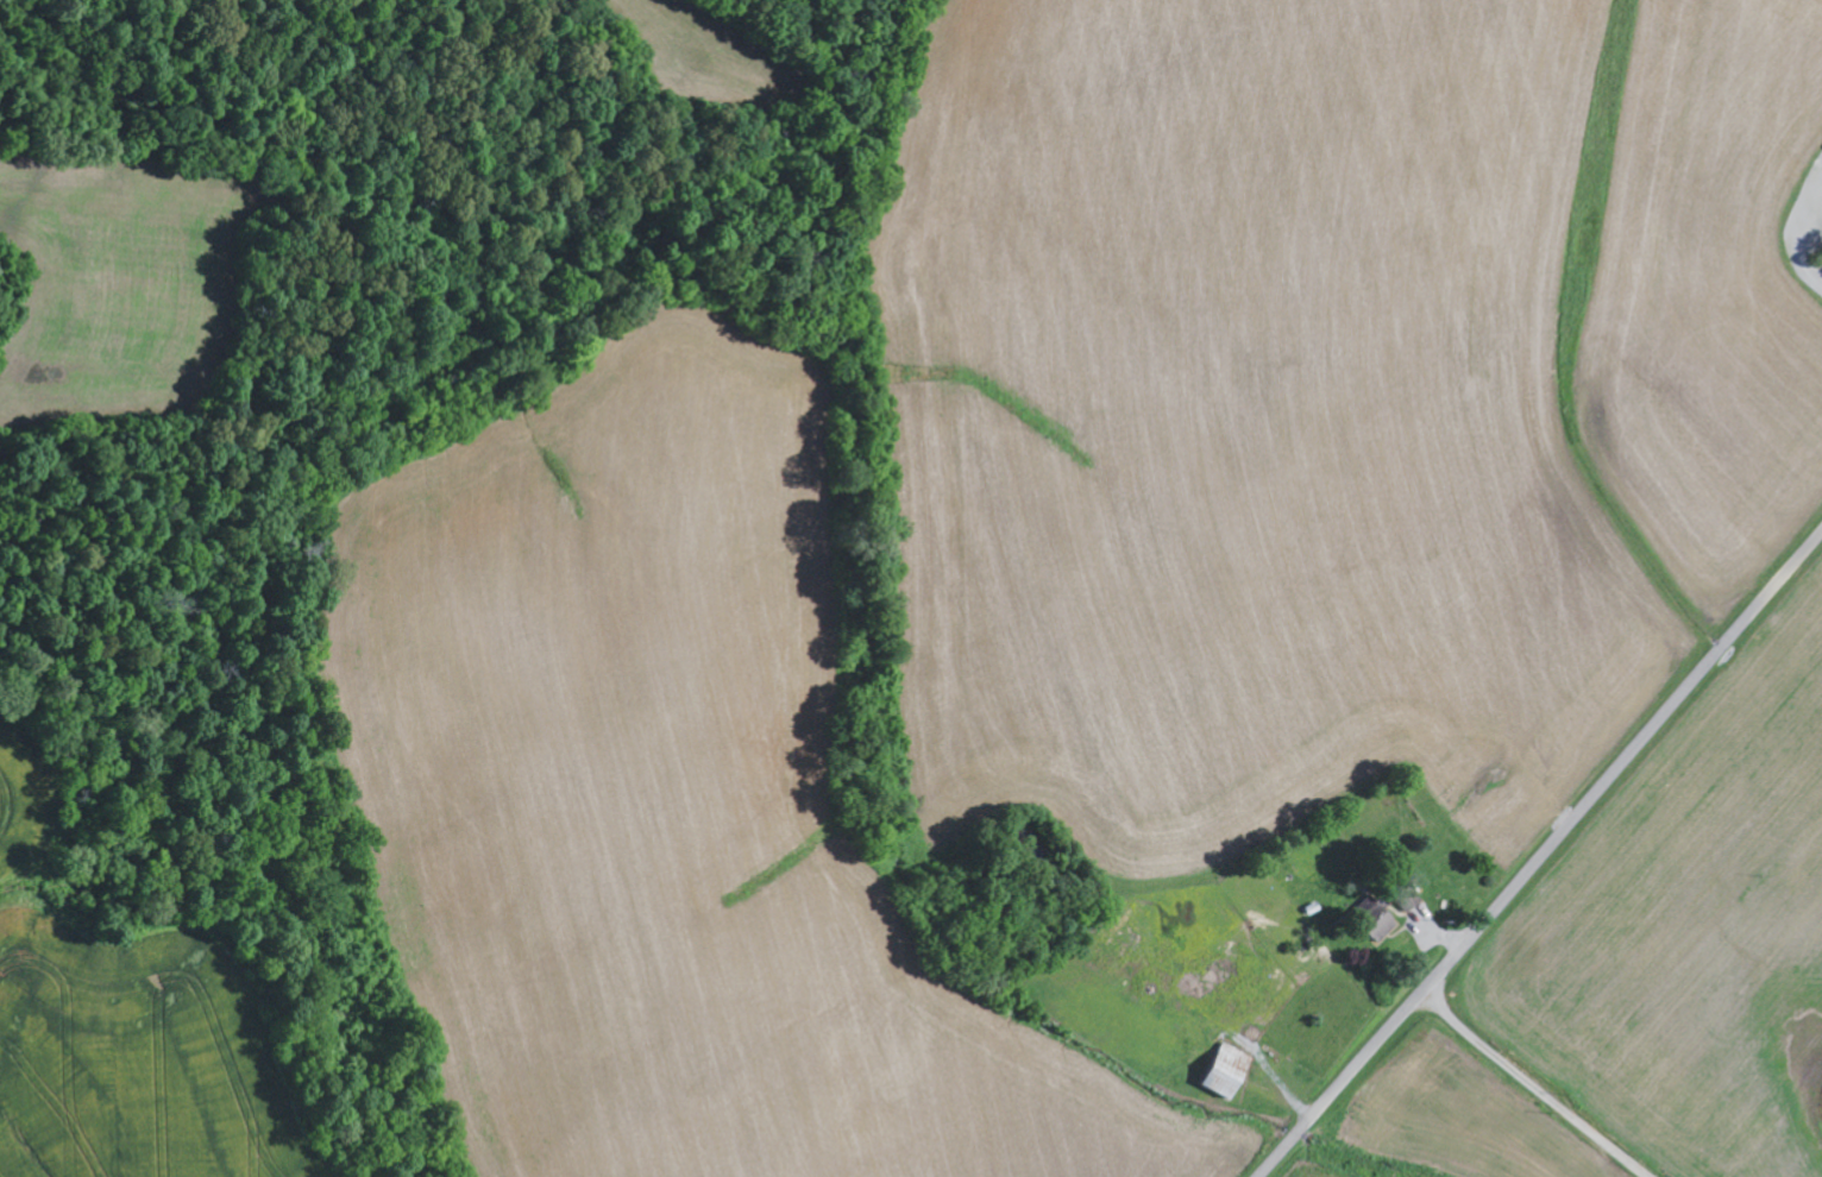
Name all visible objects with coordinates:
road: (1540, 855)
building: (1375, 924)
building: (1224, 1071)
road: (1535, 1085)

